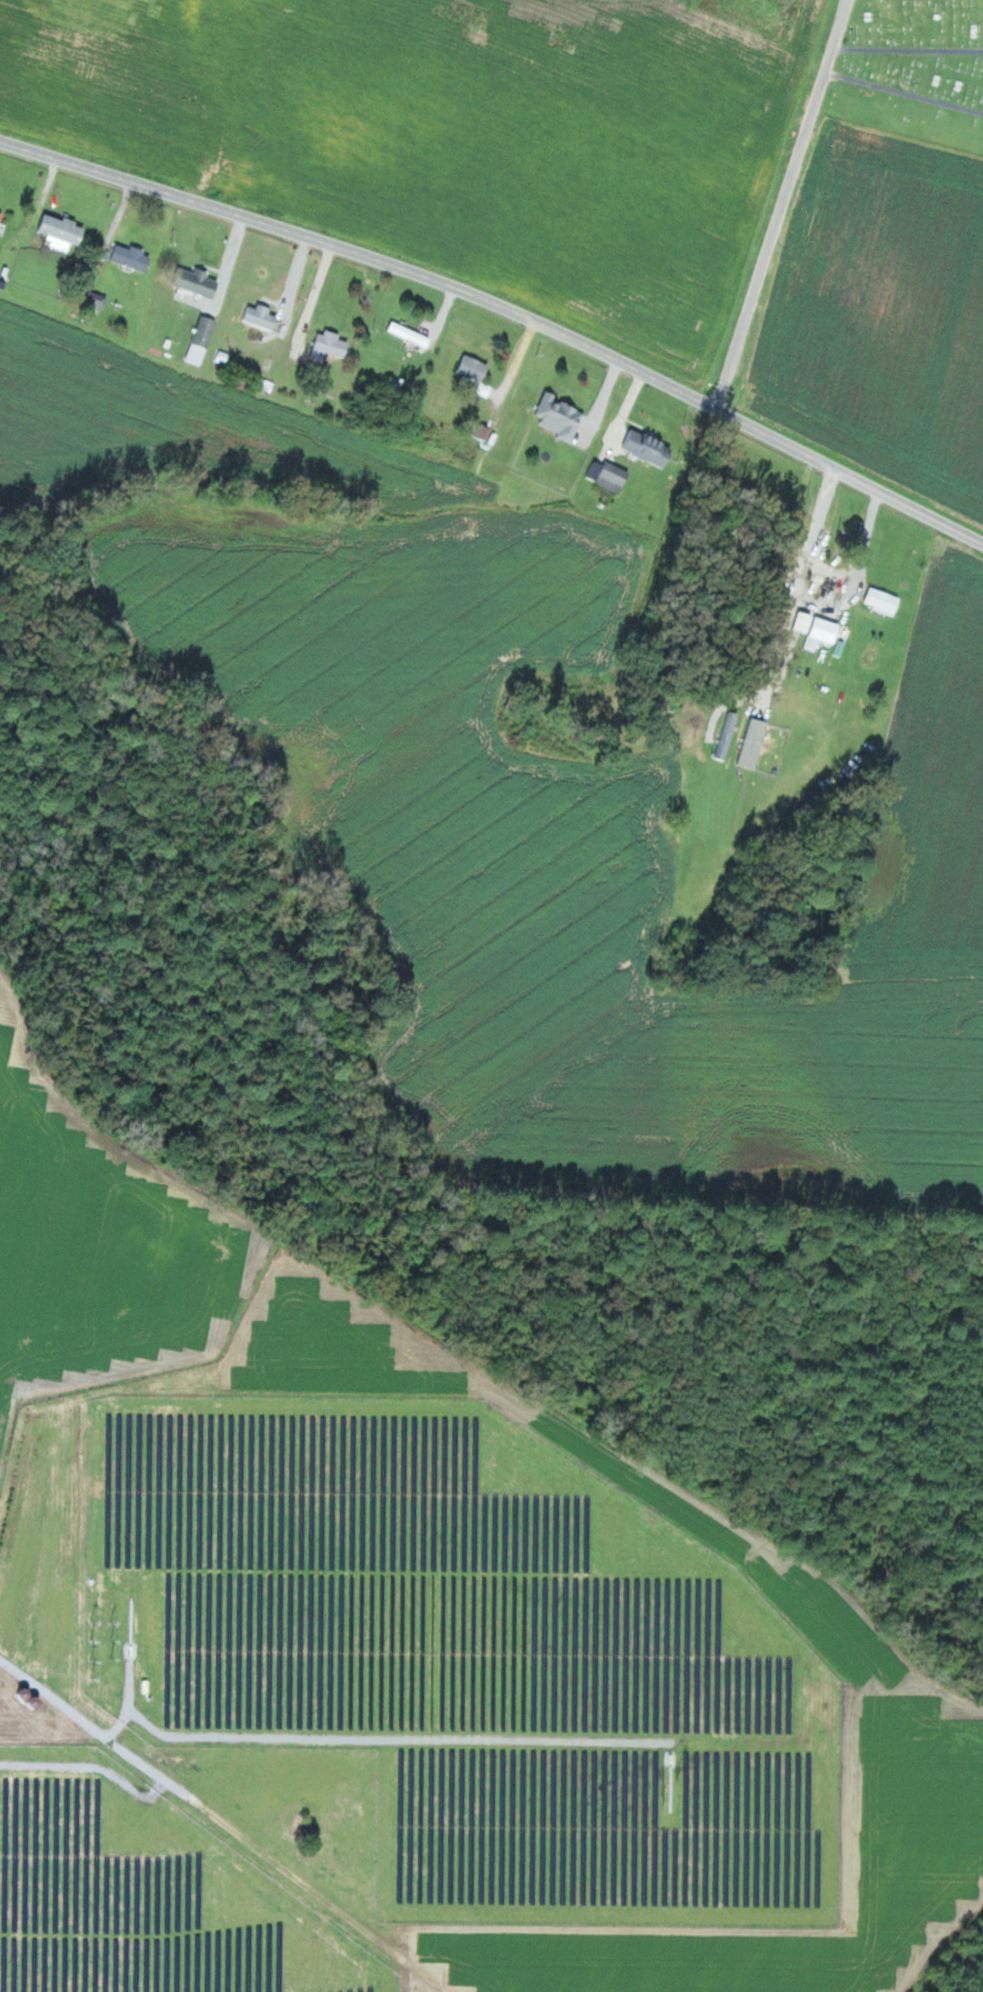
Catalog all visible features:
road: (776, 203)
building: (1, 217)
building: (64, 228)
building: (132, 256)
building: (198, 281)
building: (98, 298)
road: (503, 312)
building: (262, 316)
building: (411, 334)
building: (203, 338)
building: (331, 344)
building: (474, 367)
building: (562, 416)
building: (484, 432)
building: (614, 476)
road: (800, 577)
building: (883, 599)
building: (829, 631)
road: (10, 1664)
building: (36, 1703)

